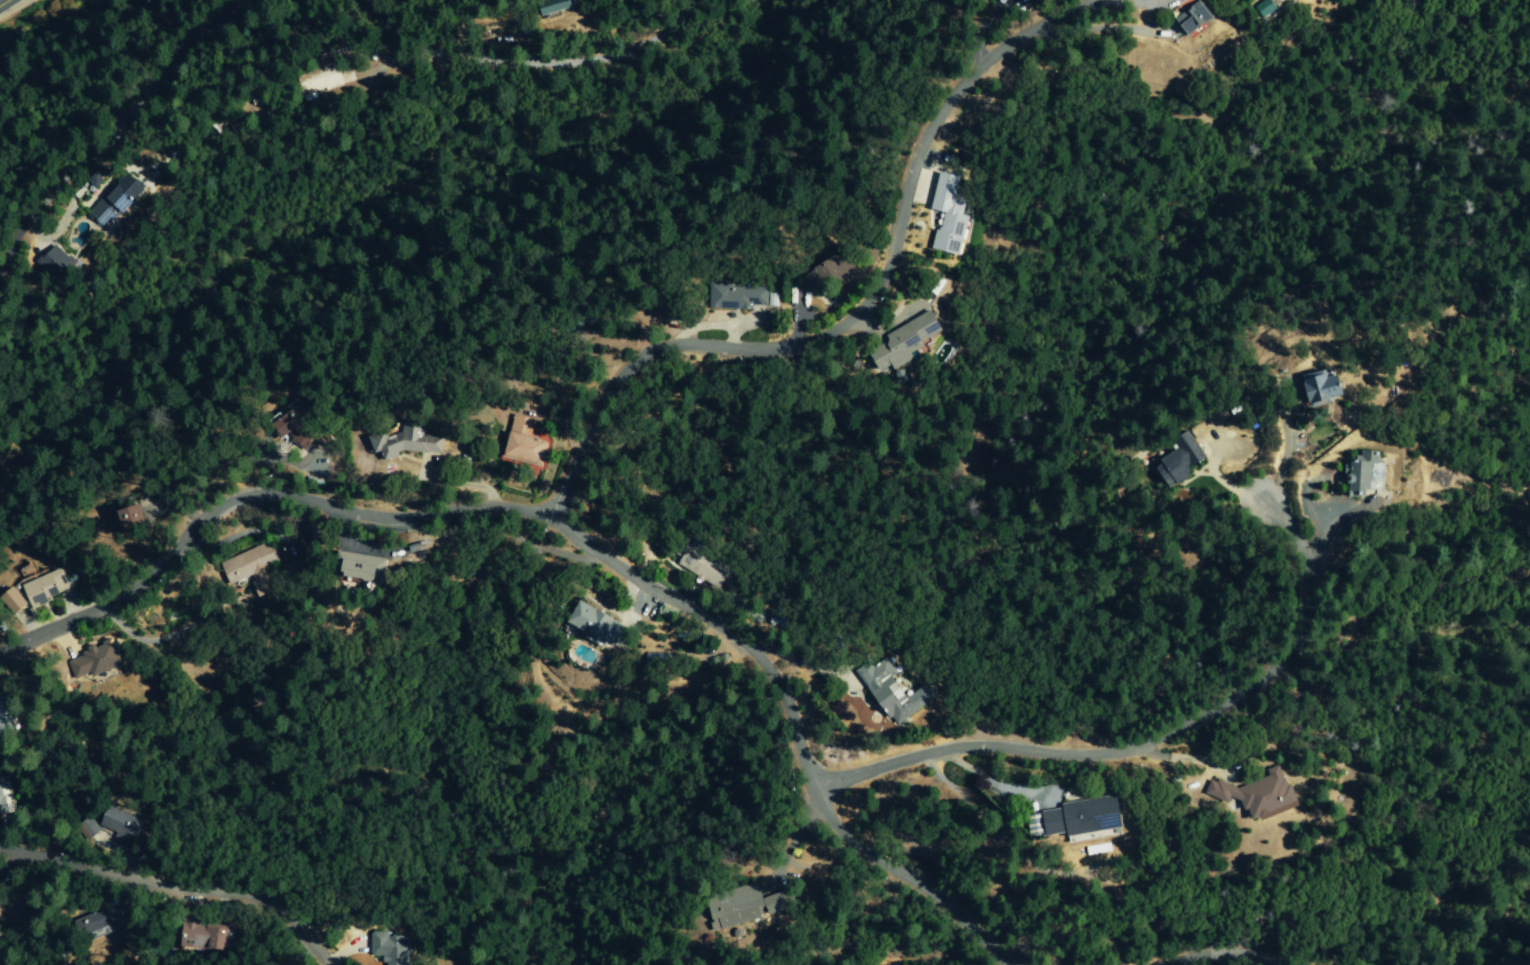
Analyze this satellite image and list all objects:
road: (4, 3)
road: (1141, 4)
building: (565, 6)
building: (1262, 8)
building: (1185, 17)
road: (983, 26)
road: (1101, 31)
road: (570, 65)
road: (128, 110)
building: (119, 199)
building: (945, 215)
building: (58, 266)
building: (825, 274)
building: (736, 296)
road: (857, 316)
building: (901, 342)
building: (1313, 388)
building: (300, 429)
building: (397, 442)
building: (516, 443)
road: (1284, 446)
building: (1174, 461)
road: (1211, 469)
building: (1357, 475)
road: (1340, 510)
road: (1309, 513)
building: (134, 519)
road: (571, 535)
building: (246, 565)
building: (698, 566)
building: (352, 567)
building: (38, 591)
building: (591, 623)
building: (101, 661)
road: (792, 662)
building: (890, 693)
building: (9, 720)
road: (1150, 745)
road: (1183, 759)
road: (936, 775)
road: (992, 783)
building: (1254, 795)
building: (1070, 819)
building: (120, 824)
road: (792, 843)
road: (818, 863)
road: (174, 888)
building: (737, 907)
building: (92, 921)
building: (205, 937)
building: (390, 947)
road: (1217, 954)

